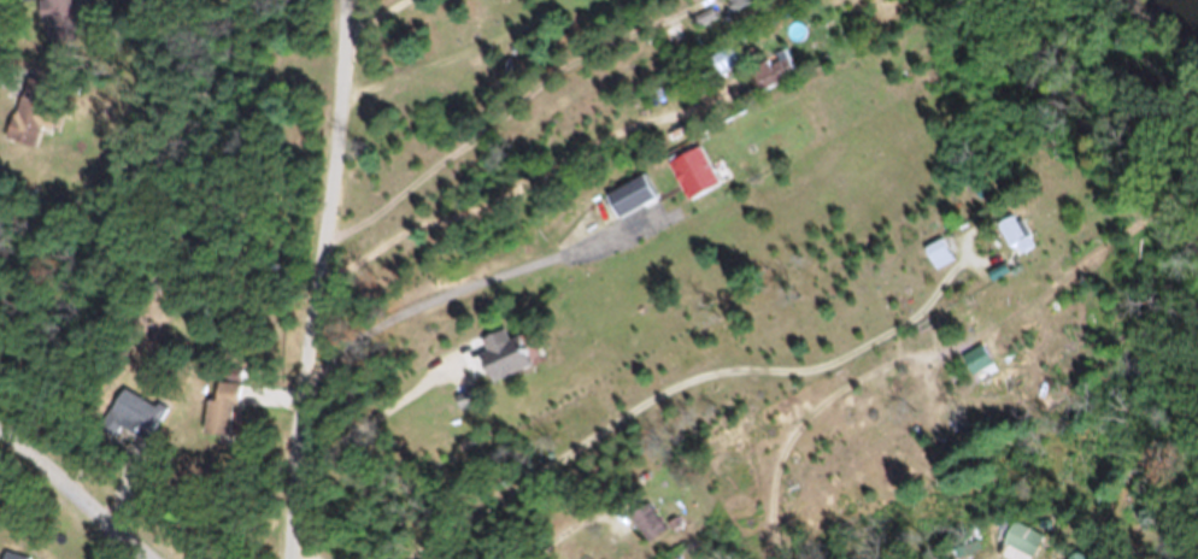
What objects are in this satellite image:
building: (738, 7)
road: (370, 12)
building: (55, 19)
road: (453, 51)
building: (770, 78)
road: (489, 112)
building: (23, 136)
building: (691, 182)
road: (525, 204)
building: (628, 205)
building: (1016, 242)
building: (939, 261)
road: (317, 278)
road: (466, 278)
building: (501, 361)
road: (666, 378)
road: (800, 412)
building: (219, 419)
building: (128, 428)
road: (375, 440)
road: (75, 492)
road: (582, 537)

